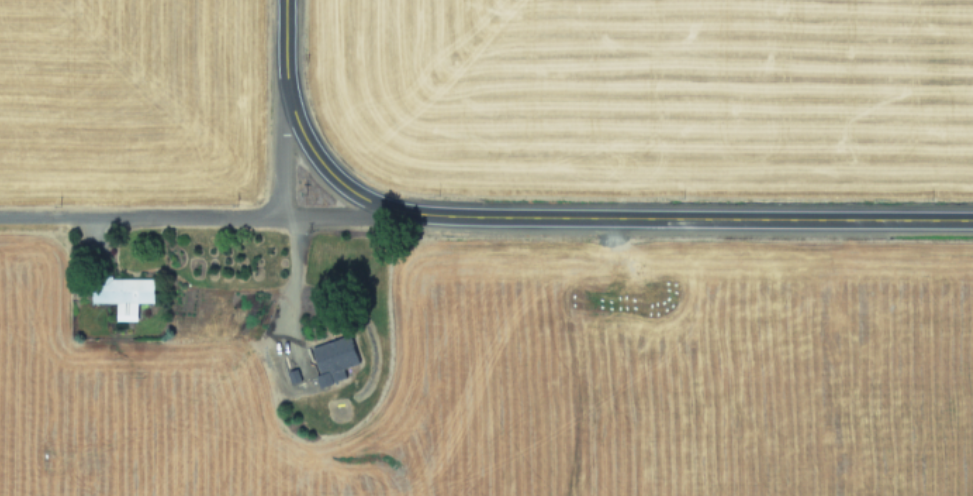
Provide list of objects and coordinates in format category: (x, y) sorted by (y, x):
crop: (642, 85)
crop: (119, 88)
road: (316, 162)
road: (138, 213)
road: (517, 213)
road: (282, 286)
building: (122, 294)
building: (332, 358)
crop: (484, 380)

